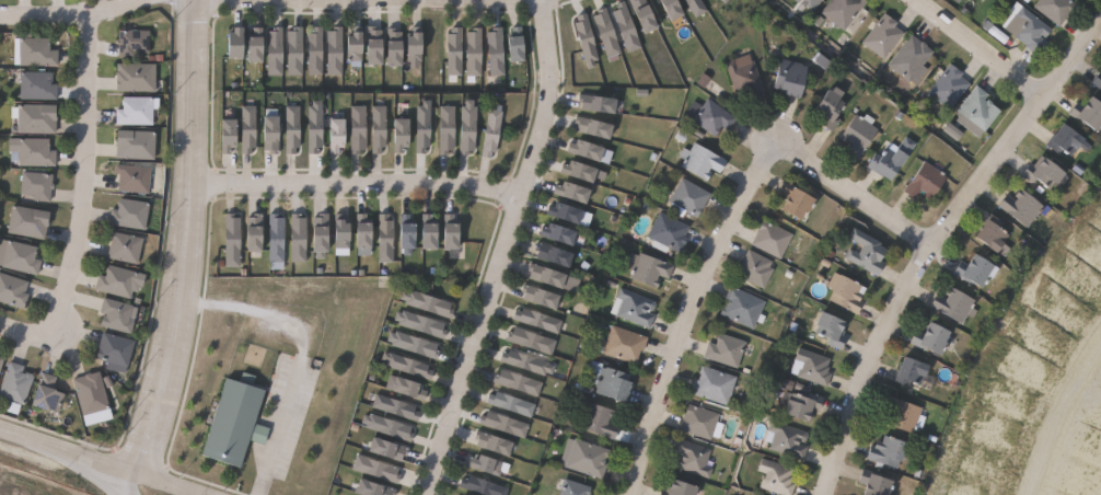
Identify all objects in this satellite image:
building: (718, 1)
building: (799, 1)
building: (952, 1)
building: (958, 1)
building: (814, 3)
building: (689, 7)
building: (663, 9)
building: (1057, 9)
building: (844, 11)
road: (67, 14)
building: (636, 15)
building: (621, 27)
building: (1029, 27)
building: (600, 33)
building: (883, 35)
building: (132, 42)
building: (580, 42)
building: (237, 45)
building: (518, 45)
road: (981, 45)
building: (258, 46)
building: (376, 46)
building: (357, 47)
building: (415, 47)
building: (396, 48)
building: (33, 51)
building: (316, 51)
building: (497, 51)
building: (276, 53)
building: (295, 53)
building: (335, 53)
building: (455, 53)
building: (475, 53)
building: (912, 57)
building: (745, 76)
building: (136, 77)
building: (792, 77)
building: (1098, 80)
building: (37, 85)
building: (950, 85)
building: (589, 102)
building: (981, 108)
building: (832, 110)
building: (136, 111)
building: (1089, 113)
building: (711, 116)
building: (34, 118)
building: (586, 125)
building: (424, 127)
building: (315, 128)
building: (379, 128)
building: (468, 128)
building: (248, 129)
building: (292, 129)
building: (358, 129)
building: (448, 130)
building: (491, 133)
building: (273, 135)
building: (404, 136)
building: (859, 136)
building: (230, 137)
building: (339, 137)
building: (1068, 140)
building: (137, 145)
building: (578, 148)
building: (32, 151)
building: (702, 161)
building: (889, 163)
building: (571, 169)
building: (1046, 173)
road: (81, 179)
building: (134, 179)
building: (926, 181)
road: (352, 184)
building: (37, 185)
building: (565, 189)
road: (849, 192)
building: (691, 197)
building: (799, 202)
building: (1022, 207)
building: (557, 211)
building: (130, 214)
building: (28, 222)
building: (431, 230)
building: (453, 230)
building: (341, 231)
building: (364, 231)
building: (255, 232)
building: (408, 232)
building: (669, 233)
building: (322, 234)
building: (561, 234)
building: (995, 235)
building: (386, 237)
building: (276, 238)
building: (298, 238)
road: (932, 238)
building: (773, 239)
building: (233, 240)
building: (125, 246)
road: (498, 249)
road: (183, 251)
building: (868, 252)
building: (545, 253)
building: (21, 257)
building: (649, 268)
building: (756, 268)
building: (978, 270)
building: (549, 276)
building: (119, 281)
building: (13, 290)
building: (848, 295)
building: (543, 297)
building: (429, 302)
building: (954, 304)
building: (635, 307)
building: (744, 308)
road: (253, 310)
road: (687, 312)
building: (116, 315)
building: (531, 319)
building: (421, 323)
building: (831, 330)
road: (21, 332)
building: (935, 338)
building: (525, 339)
building: (415, 343)
building: (626, 345)
building: (115, 349)
building: (728, 350)
building: (1, 361)
building: (520, 362)
building: (408, 365)
building: (812, 367)
building: (916, 376)
building: (520, 382)
building: (613, 382)
building: (15, 383)
building: (716, 384)
building: (412, 387)
building: (91, 393)
building: (47, 394)
building: (512, 404)
building: (802, 405)
building: (396, 406)
building: (904, 415)
road: (1057, 415)
building: (599, 419)
building: (236, 422)
building: (702, 422)
building: (505, 424)
road: (279, 426)
building: (389, 426)
road: (26, 438)
building: (787, 440)
building: (495, 444)
building: (390, 448)
building: (890, 452)
building: (693, 457)
building: (588, 458)
building: (486, 465)
building: (378, 469)
road: (127, 470)
road: (84, 471)
building: (777, 477)
building: (877, 483)
building: (483, 486)
road: (20, 487)
building: (576, 488)
building: (374, 490)
building: (683, 490)

